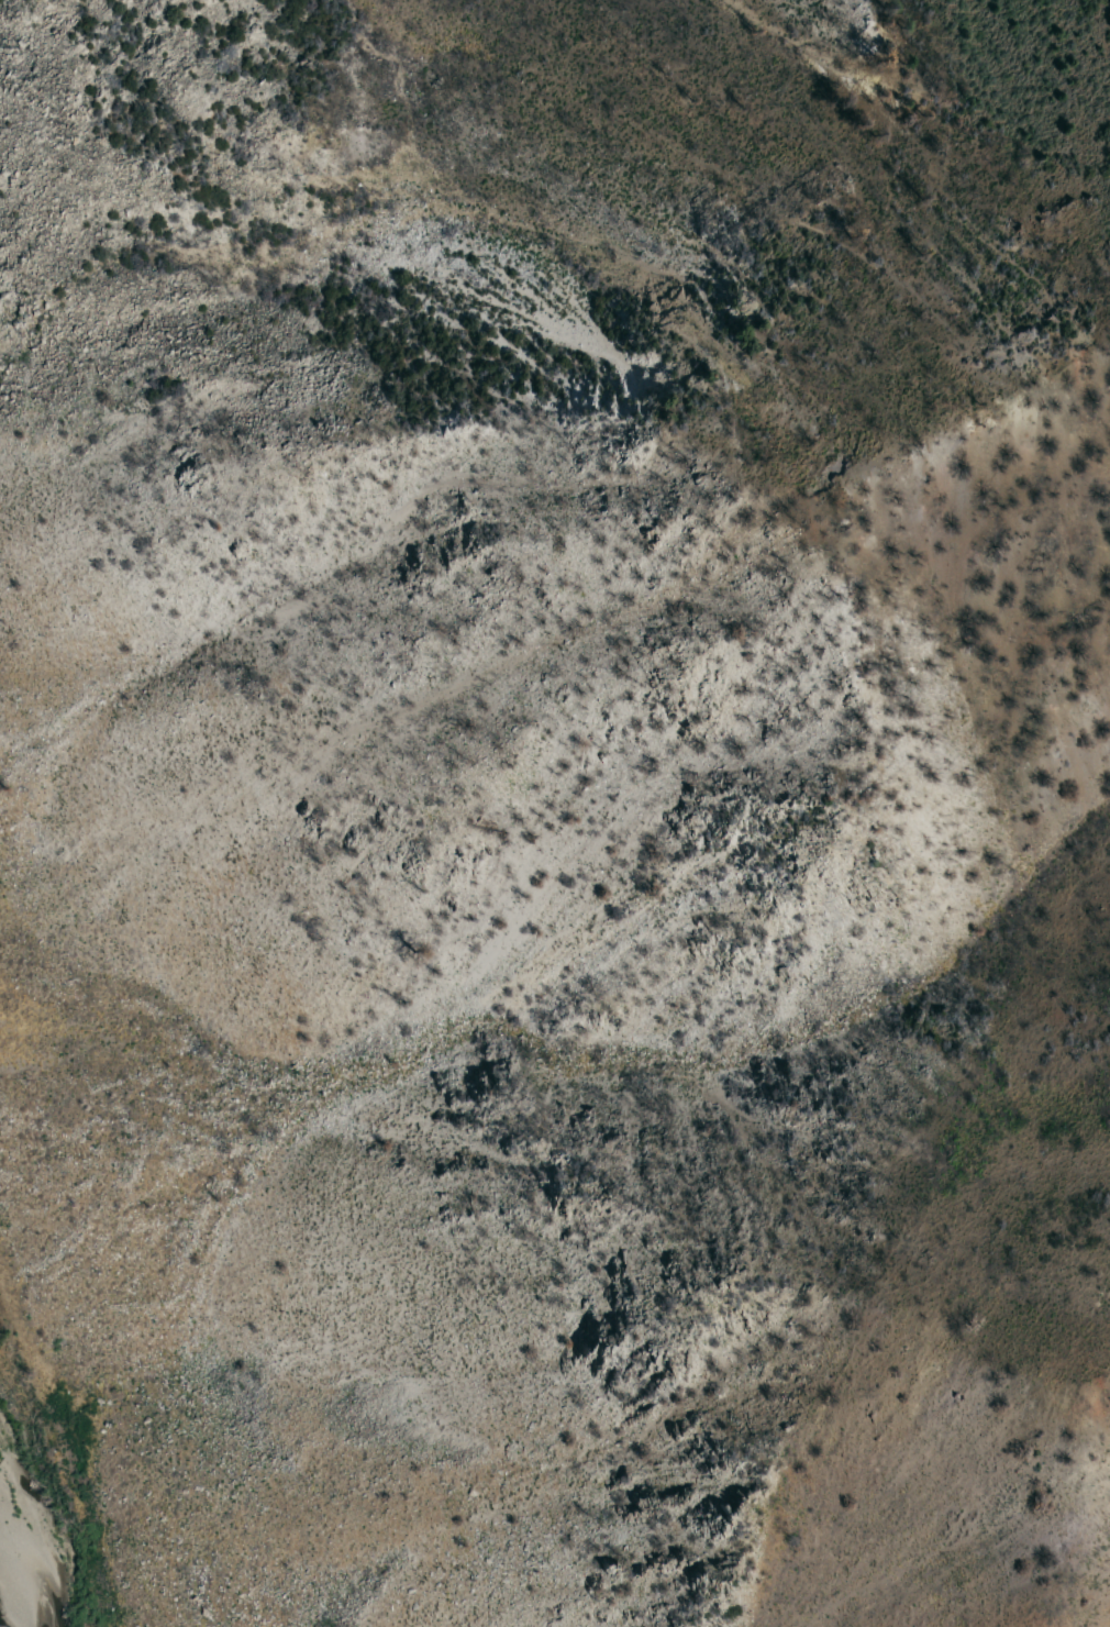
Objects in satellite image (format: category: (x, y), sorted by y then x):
river: (11, 1604)

